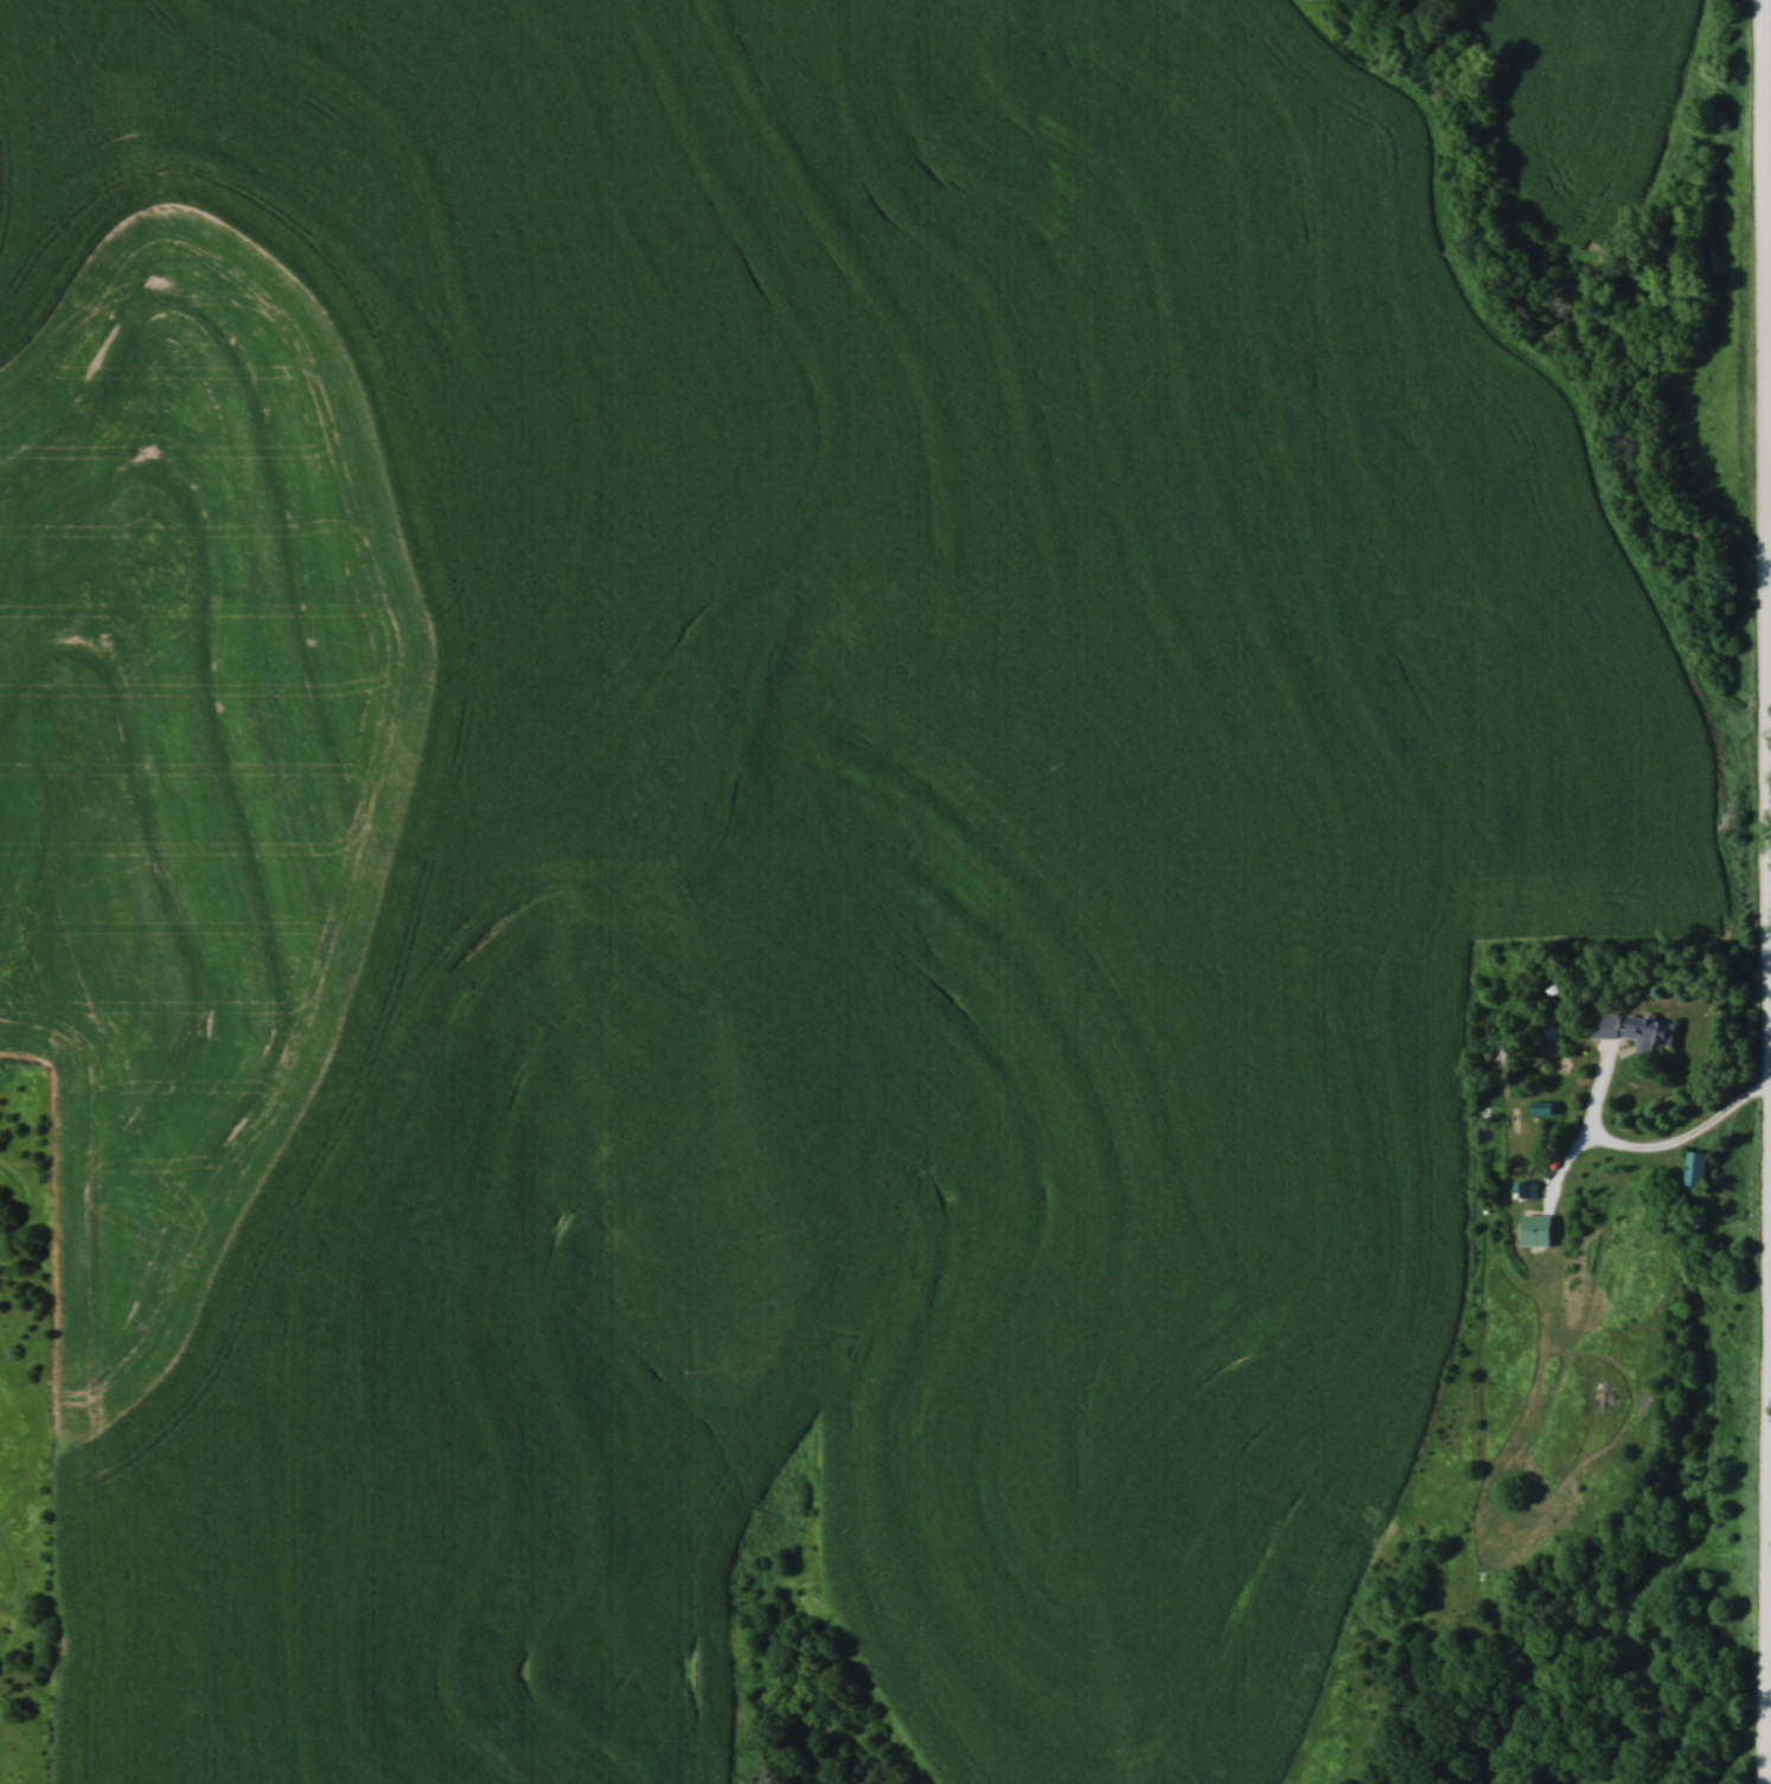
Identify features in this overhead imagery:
road: (1769, 367)
building: (1637, 1031)
building: (1546, 1108)
road: (1657, 1152)
building: (1702, 1169)
building: (1529, 1190)
road: (1766, 1674)

